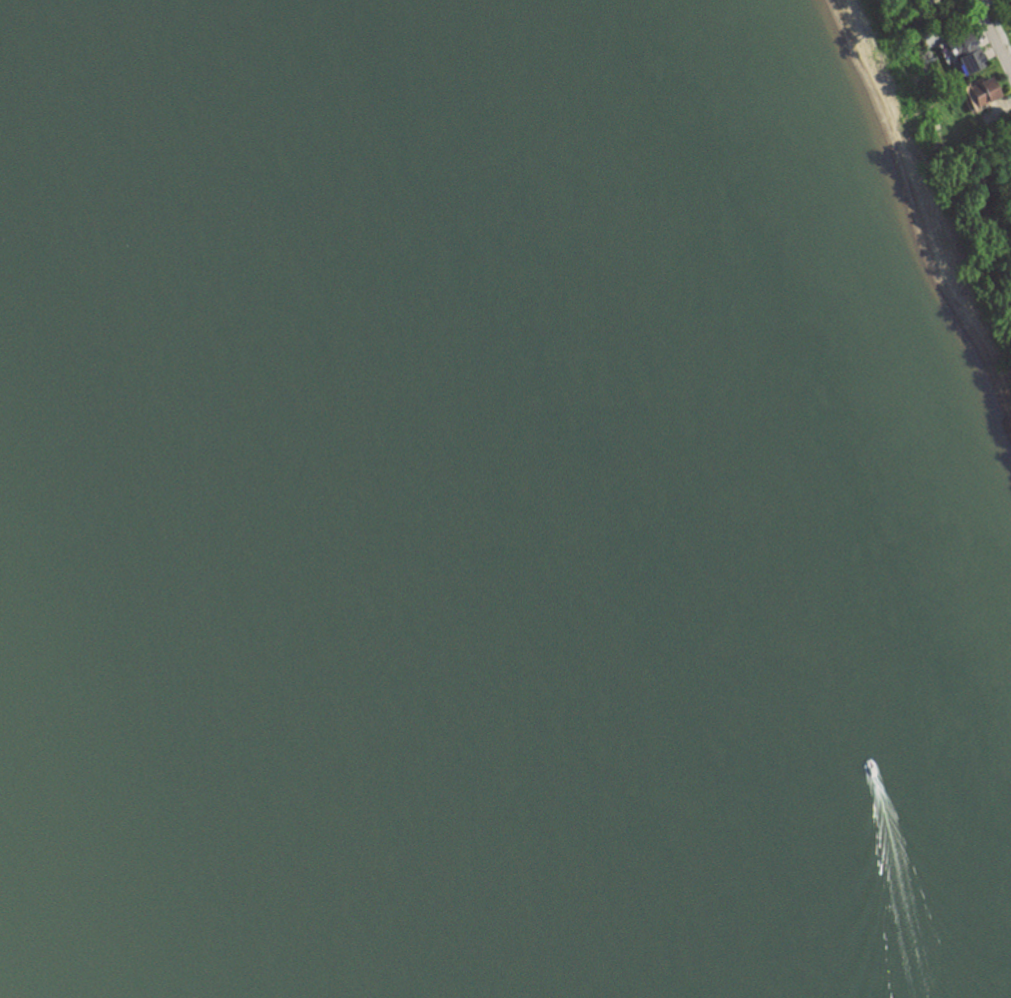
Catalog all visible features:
road: (989, 46)
building: (972, 62)
building: (987, 91)
river: (402, 493)

